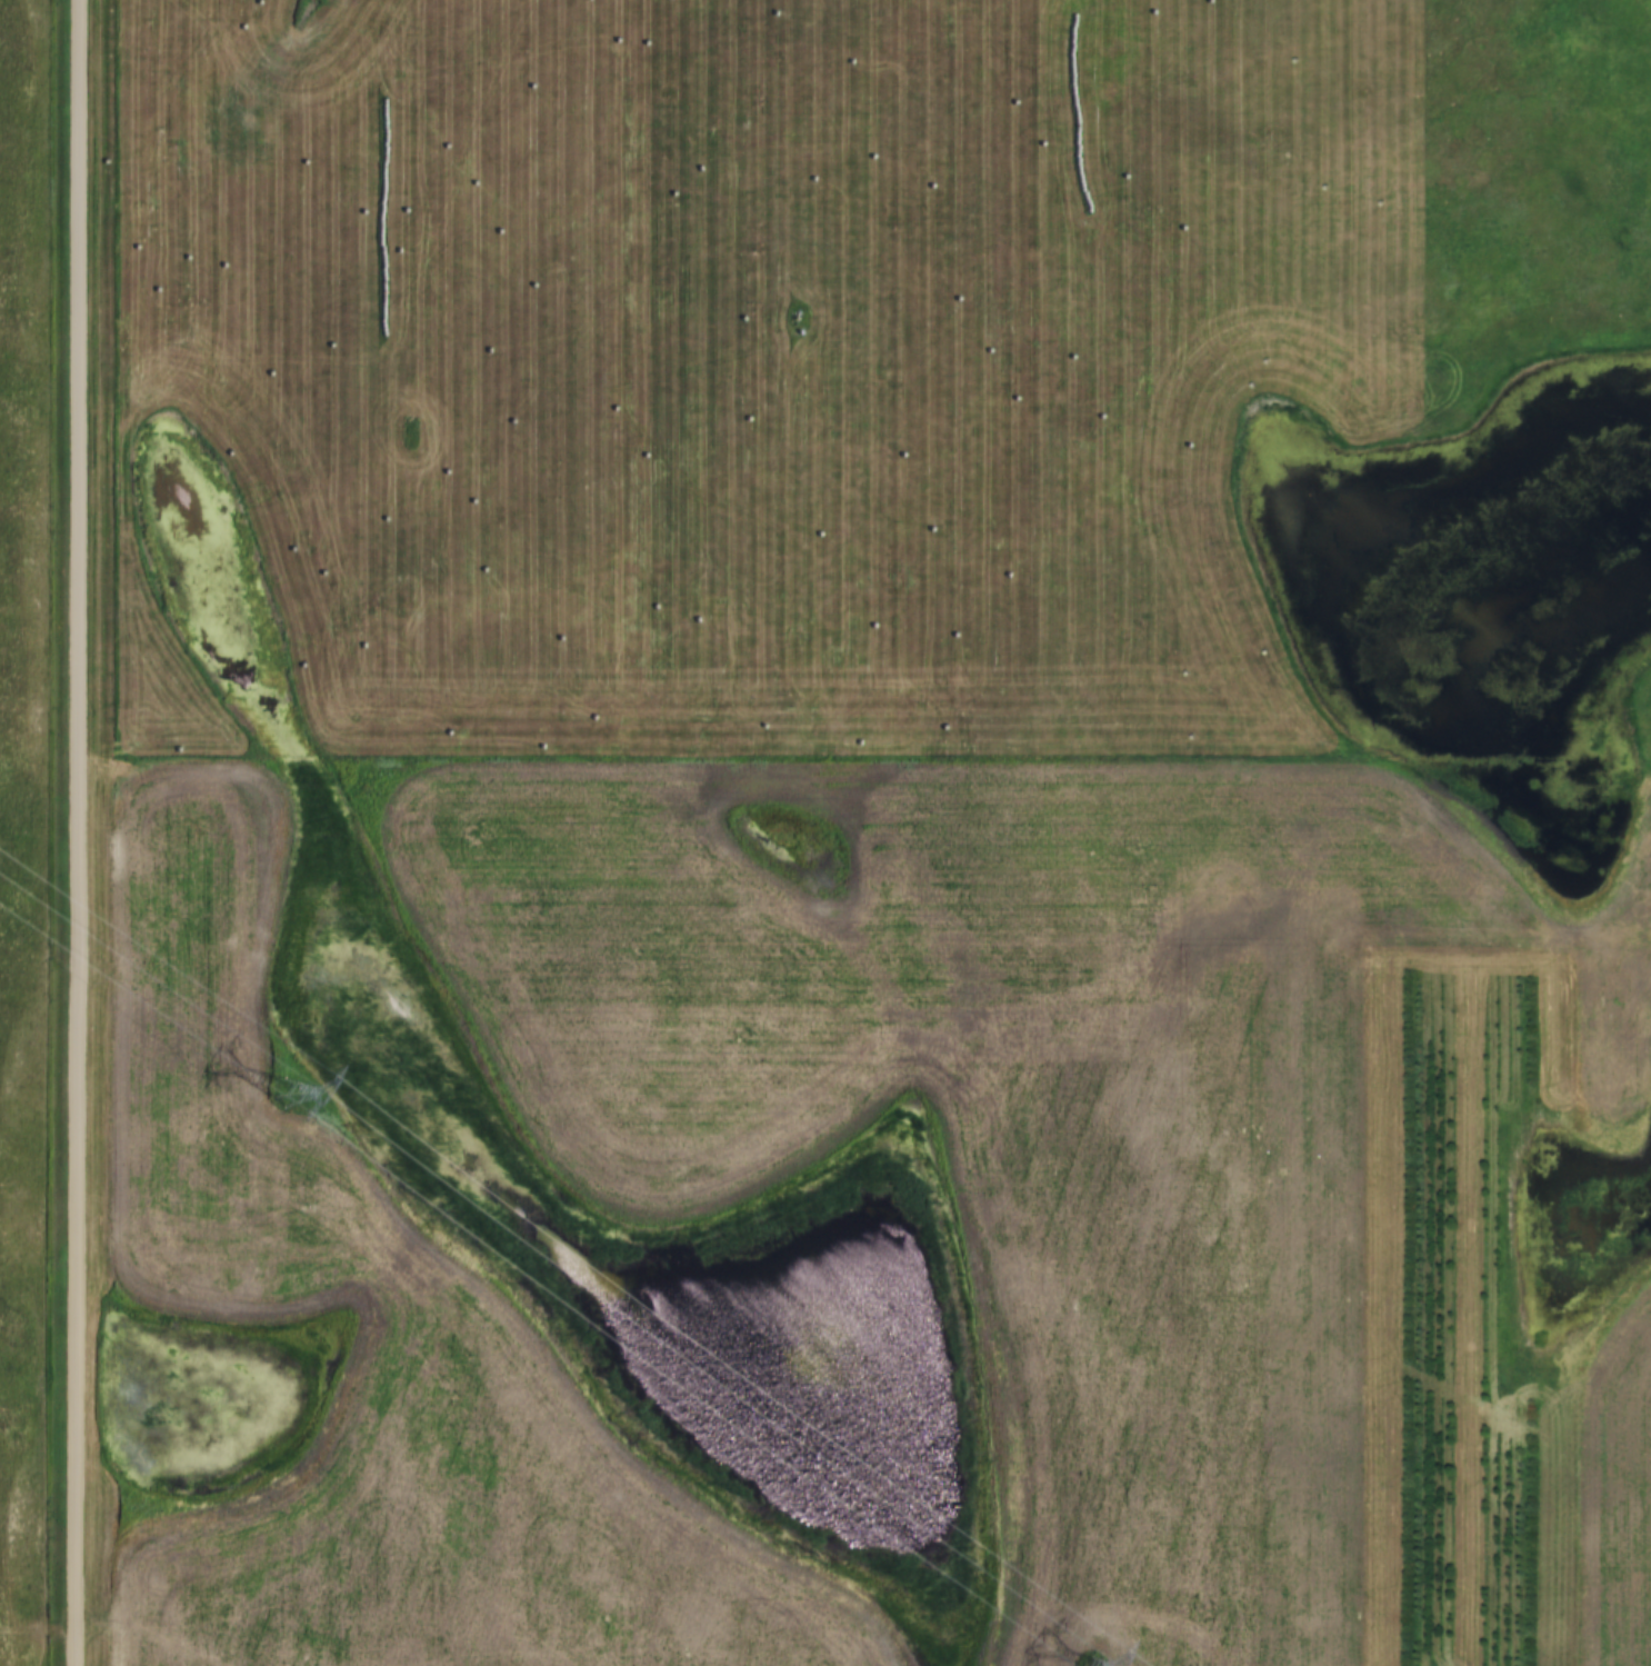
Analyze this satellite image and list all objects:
building: (214, 179)
building: (1050, 198)
road: (77, 832)
power tower: (286, 1091)

